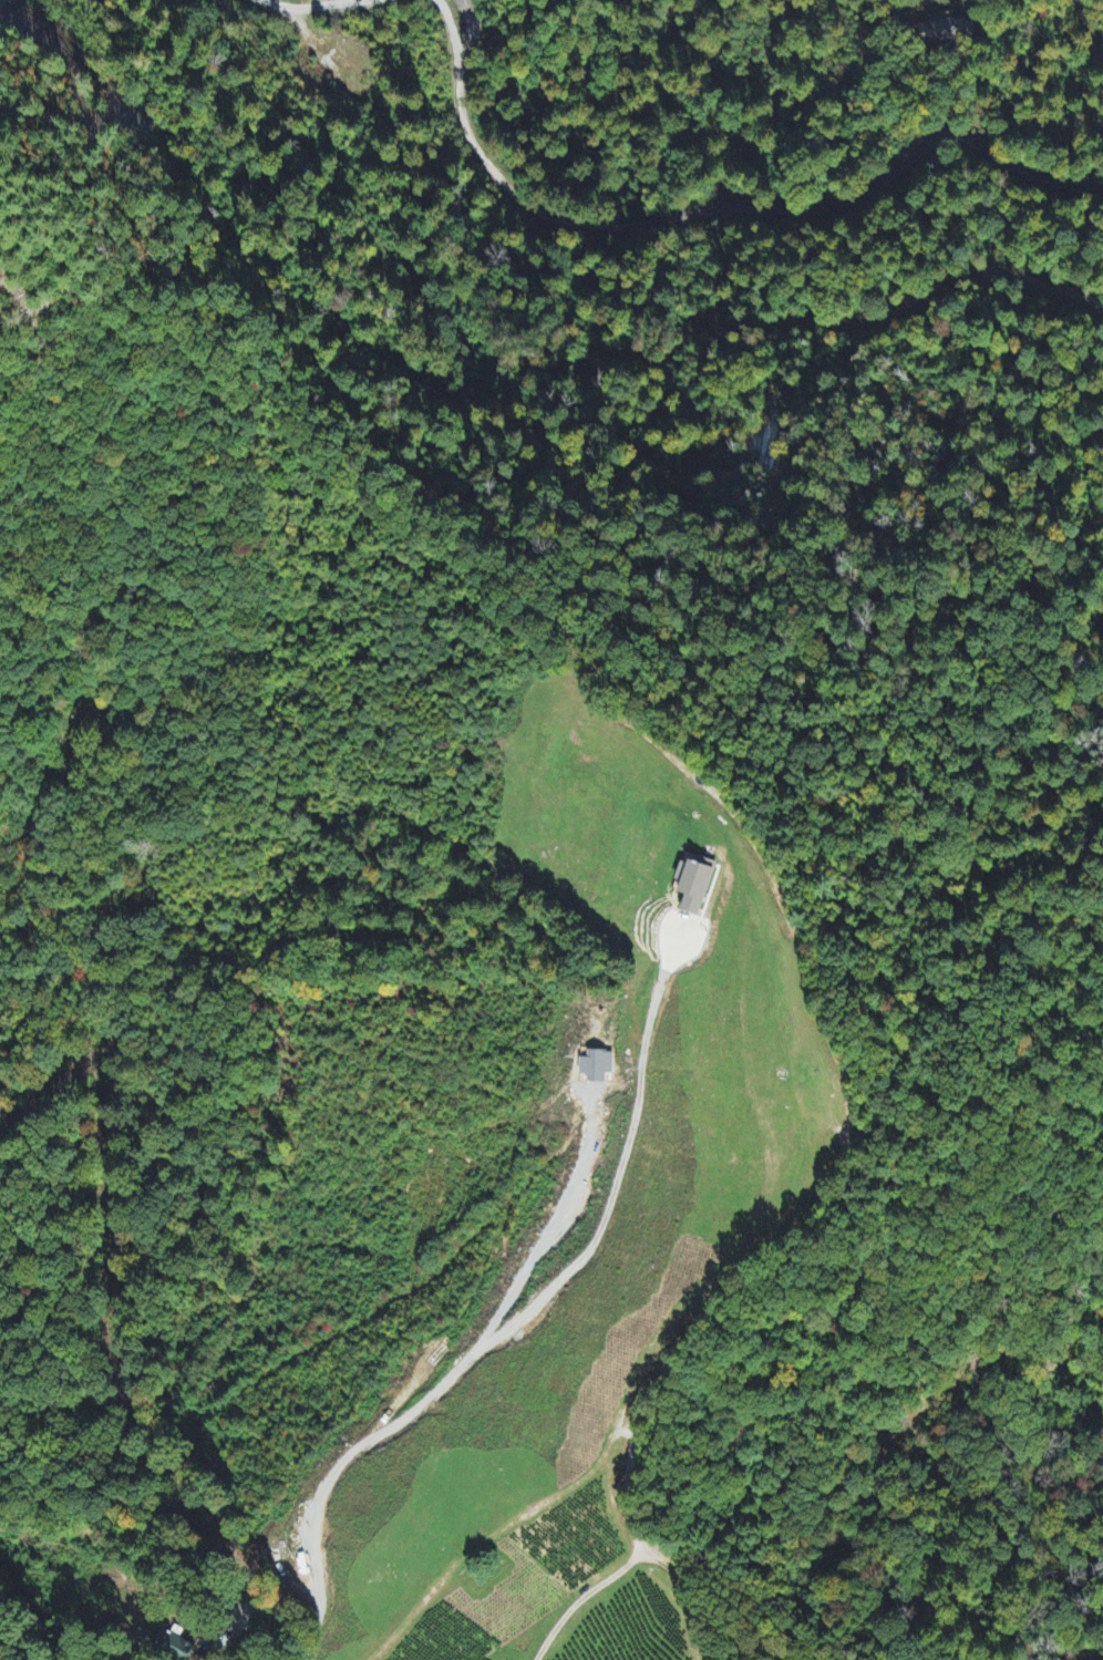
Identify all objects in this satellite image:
road: (320, 4)
road: (451, 32)
building: (937, 34)
road: (713, 209)
road: (906, 310)
building: (694, 885)
road: (822, 1200)
road: (540, 1300)
road: (322, 1590)
building: (174, 1648)
road: (1101, 1659)

